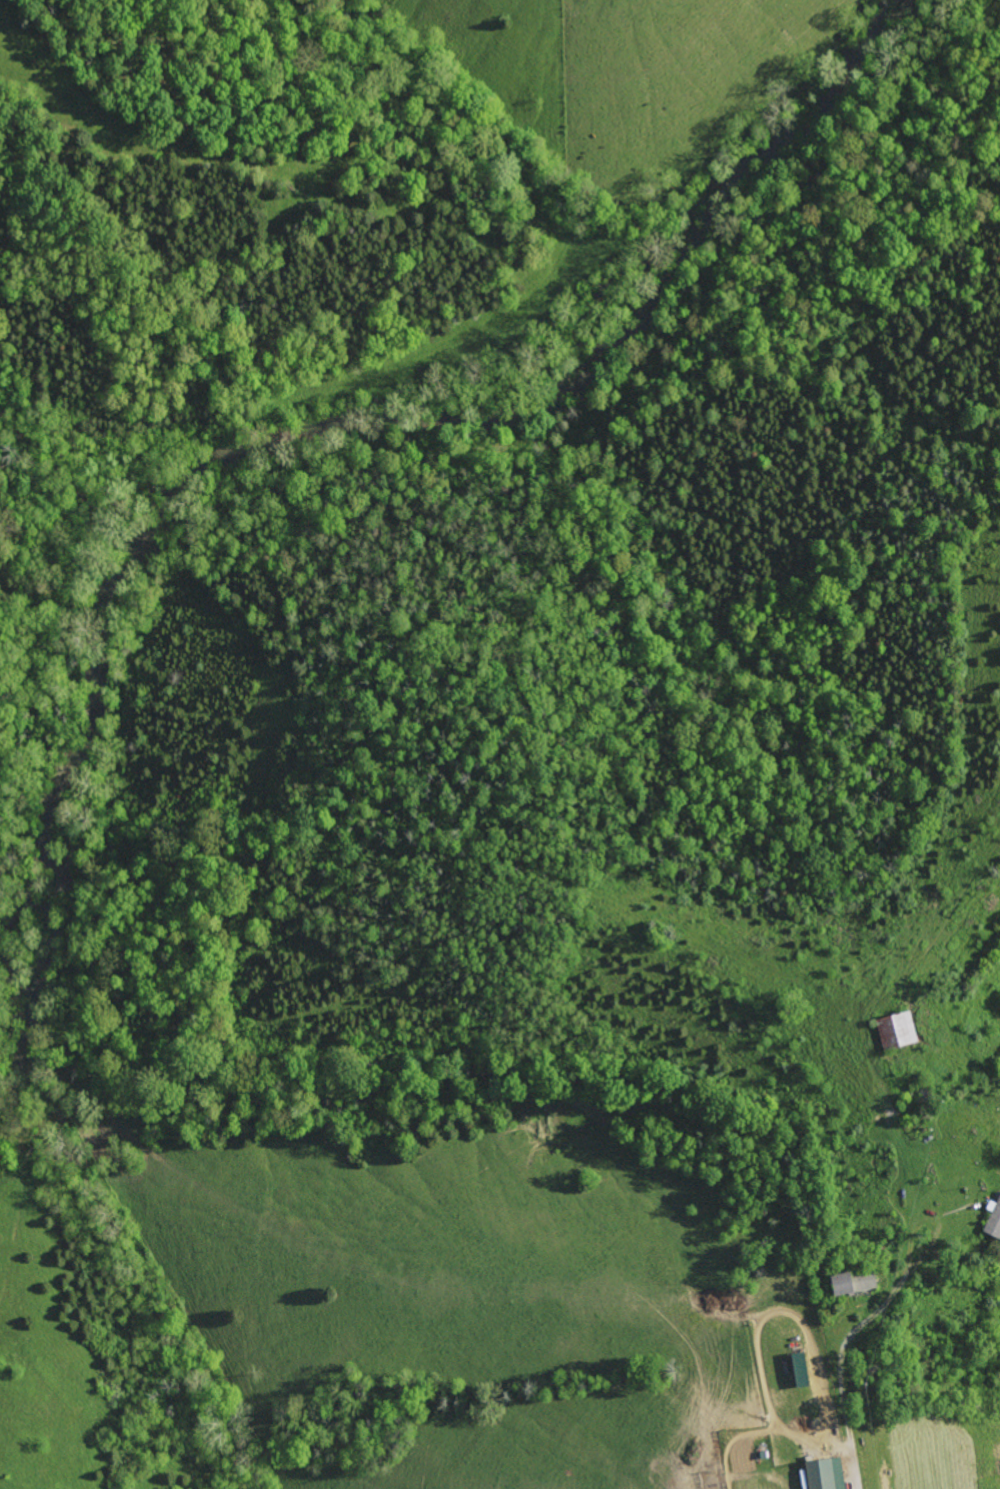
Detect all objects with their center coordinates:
building: (892, 1030)
building: (991, 1217)
building: (847, 1283)
building: (794, 1369)
road: (835, 1377)
building: (820, 1474)

